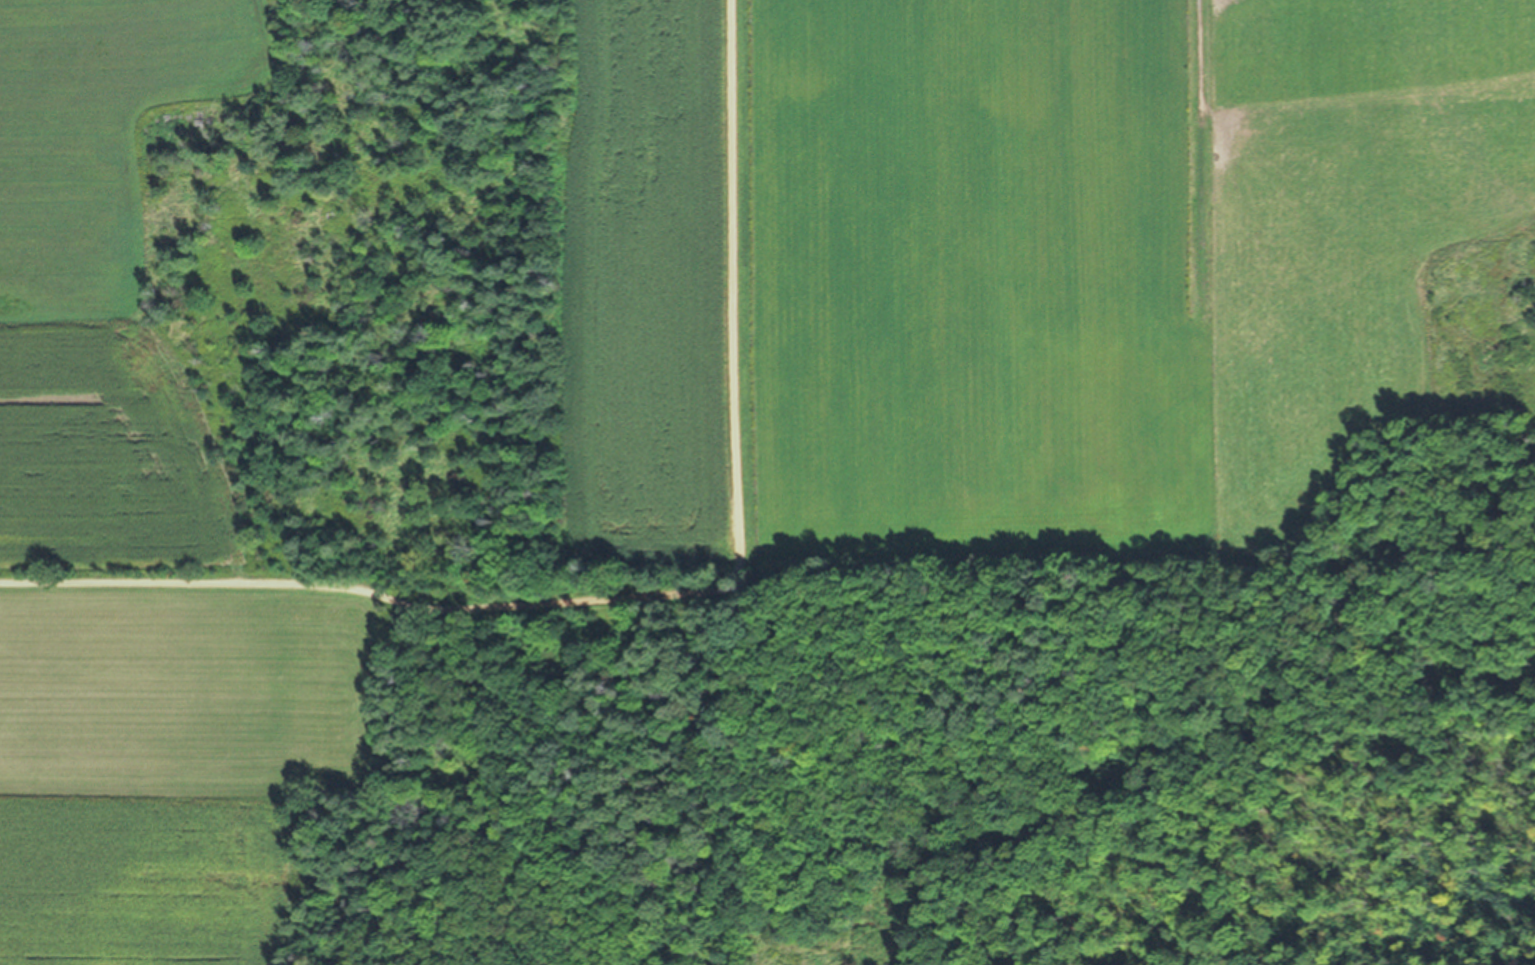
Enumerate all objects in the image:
road: (740, 521)
crop: (141, 539)
road: (142, 581)

